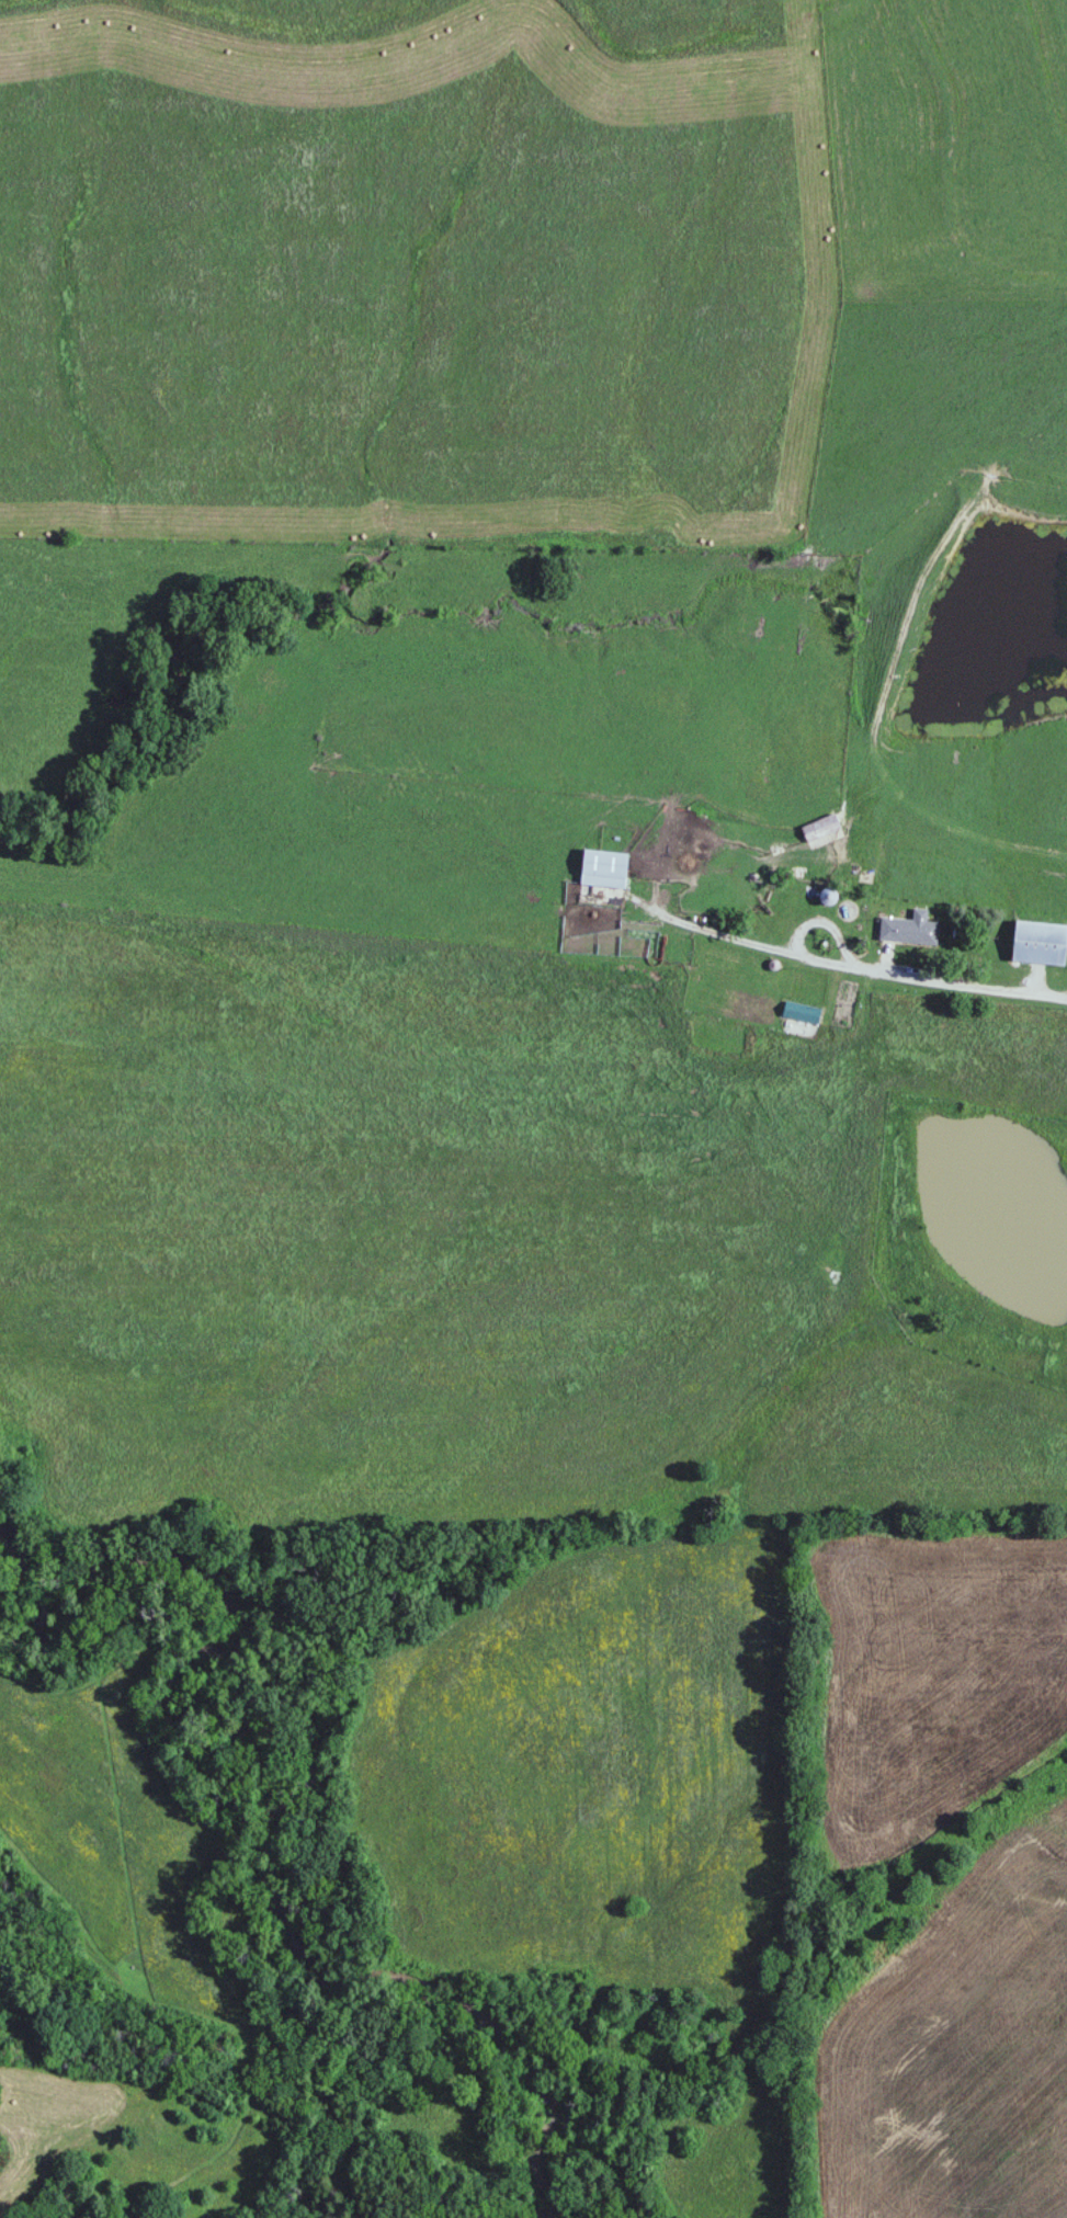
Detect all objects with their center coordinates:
building: (821, 827)
building: (701, 861)
building: (604, 867)
building: (909, 928)
building: (1040, 942)
road: (848, 959)
building: (803, 1011)

